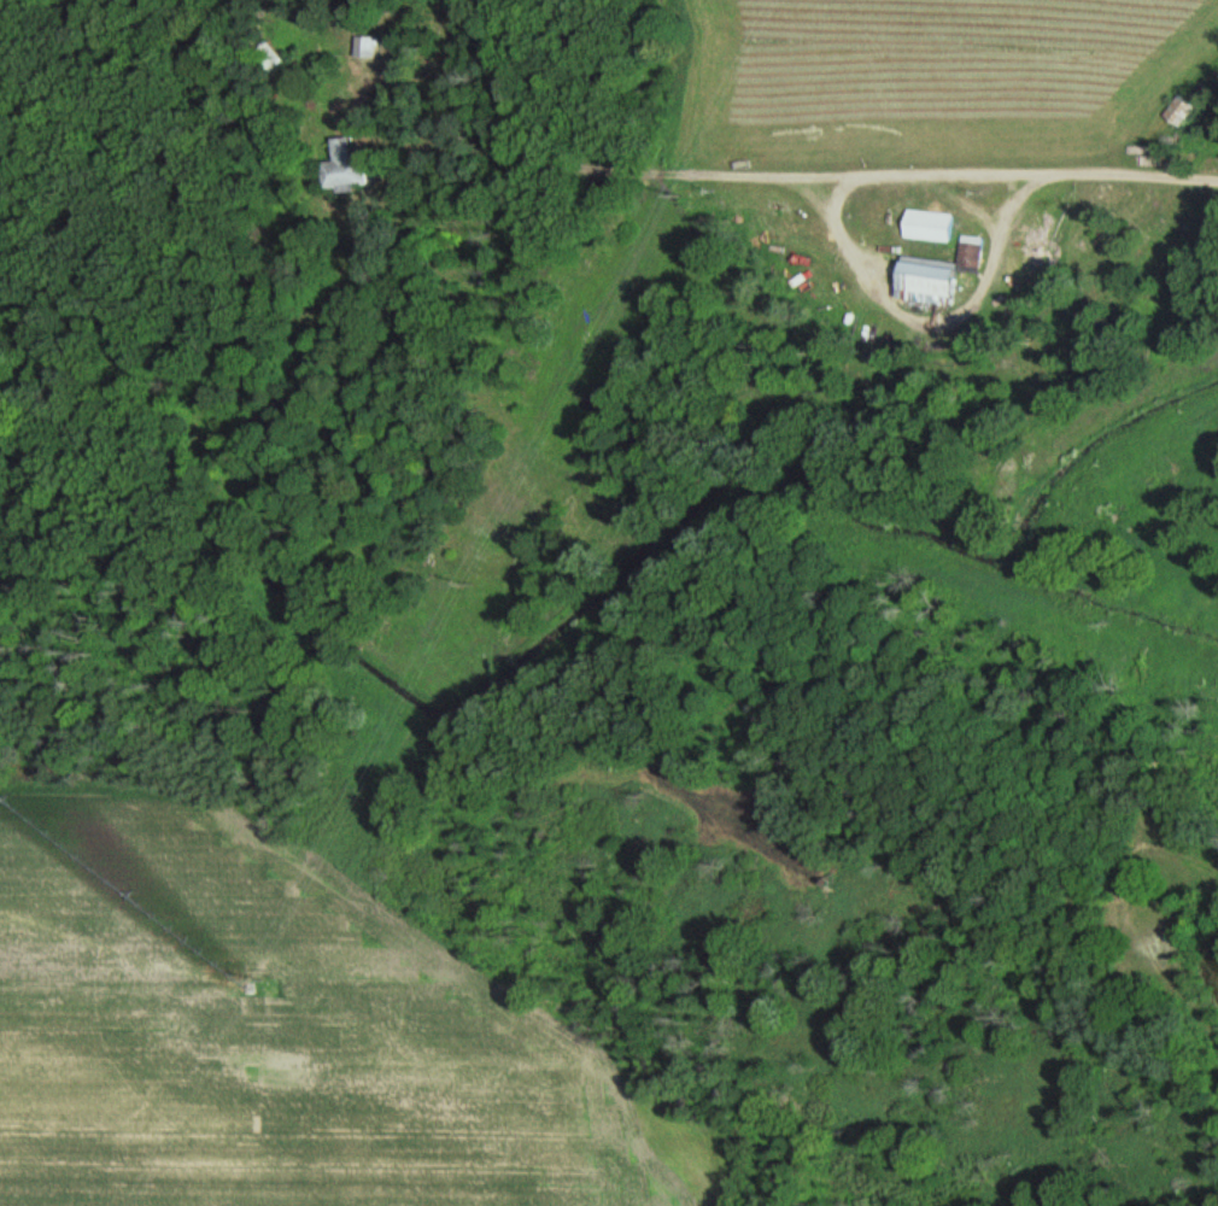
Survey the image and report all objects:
building: (369, 47)
building: (1179, 110)
road: (966, 166)
building: (349, 168)
power tower: (695, 187)
building: (933, 227)
building: (942, 275)
power tower: (484, 585)
power tower: (279, 980)

